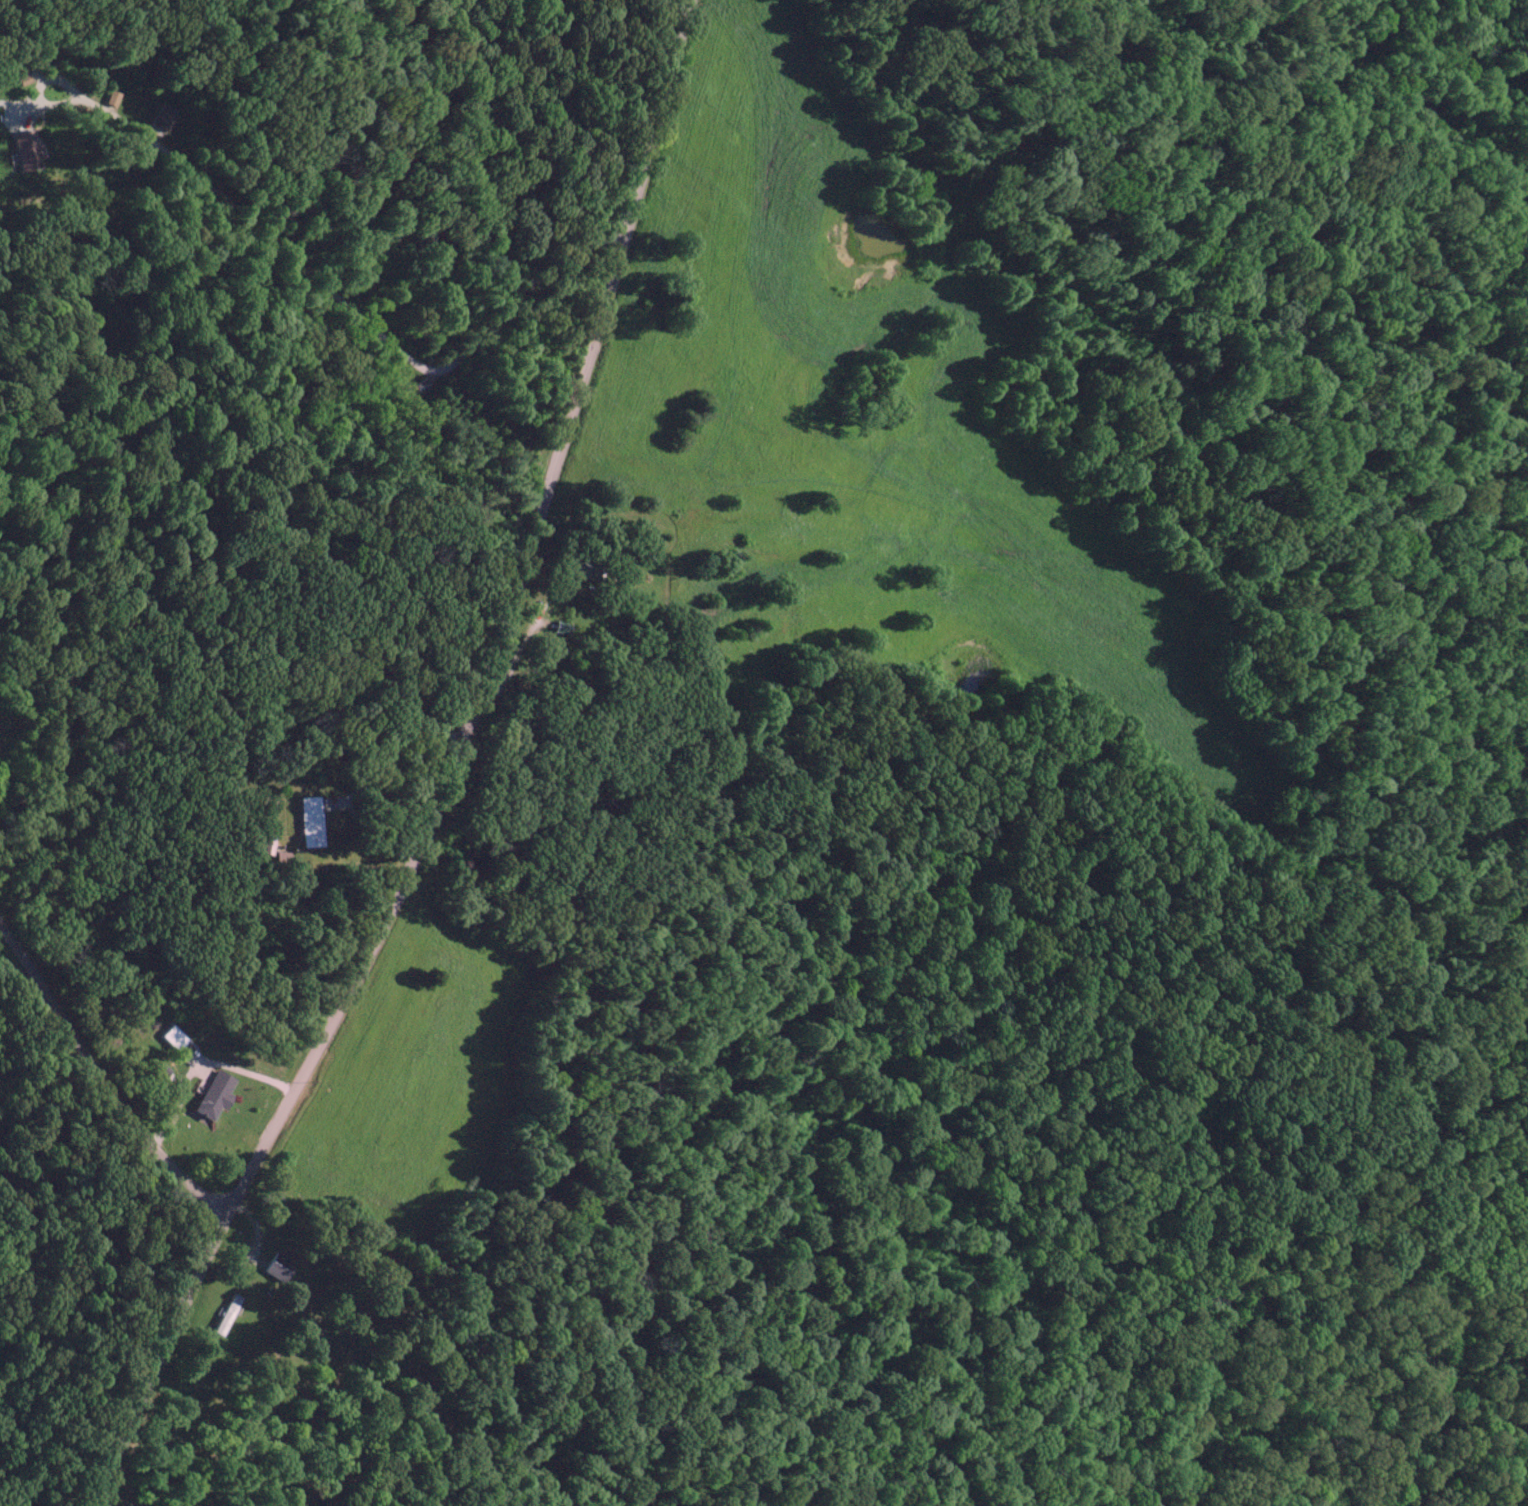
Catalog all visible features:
building: (153, 118)
building: (26, 149)
building: (588, 570)
road: (445, 773)
building: (311, 821)
road: (100, 1078)
building: (216, 1093)
building: (279, 1265)
building: (227, 1314)

